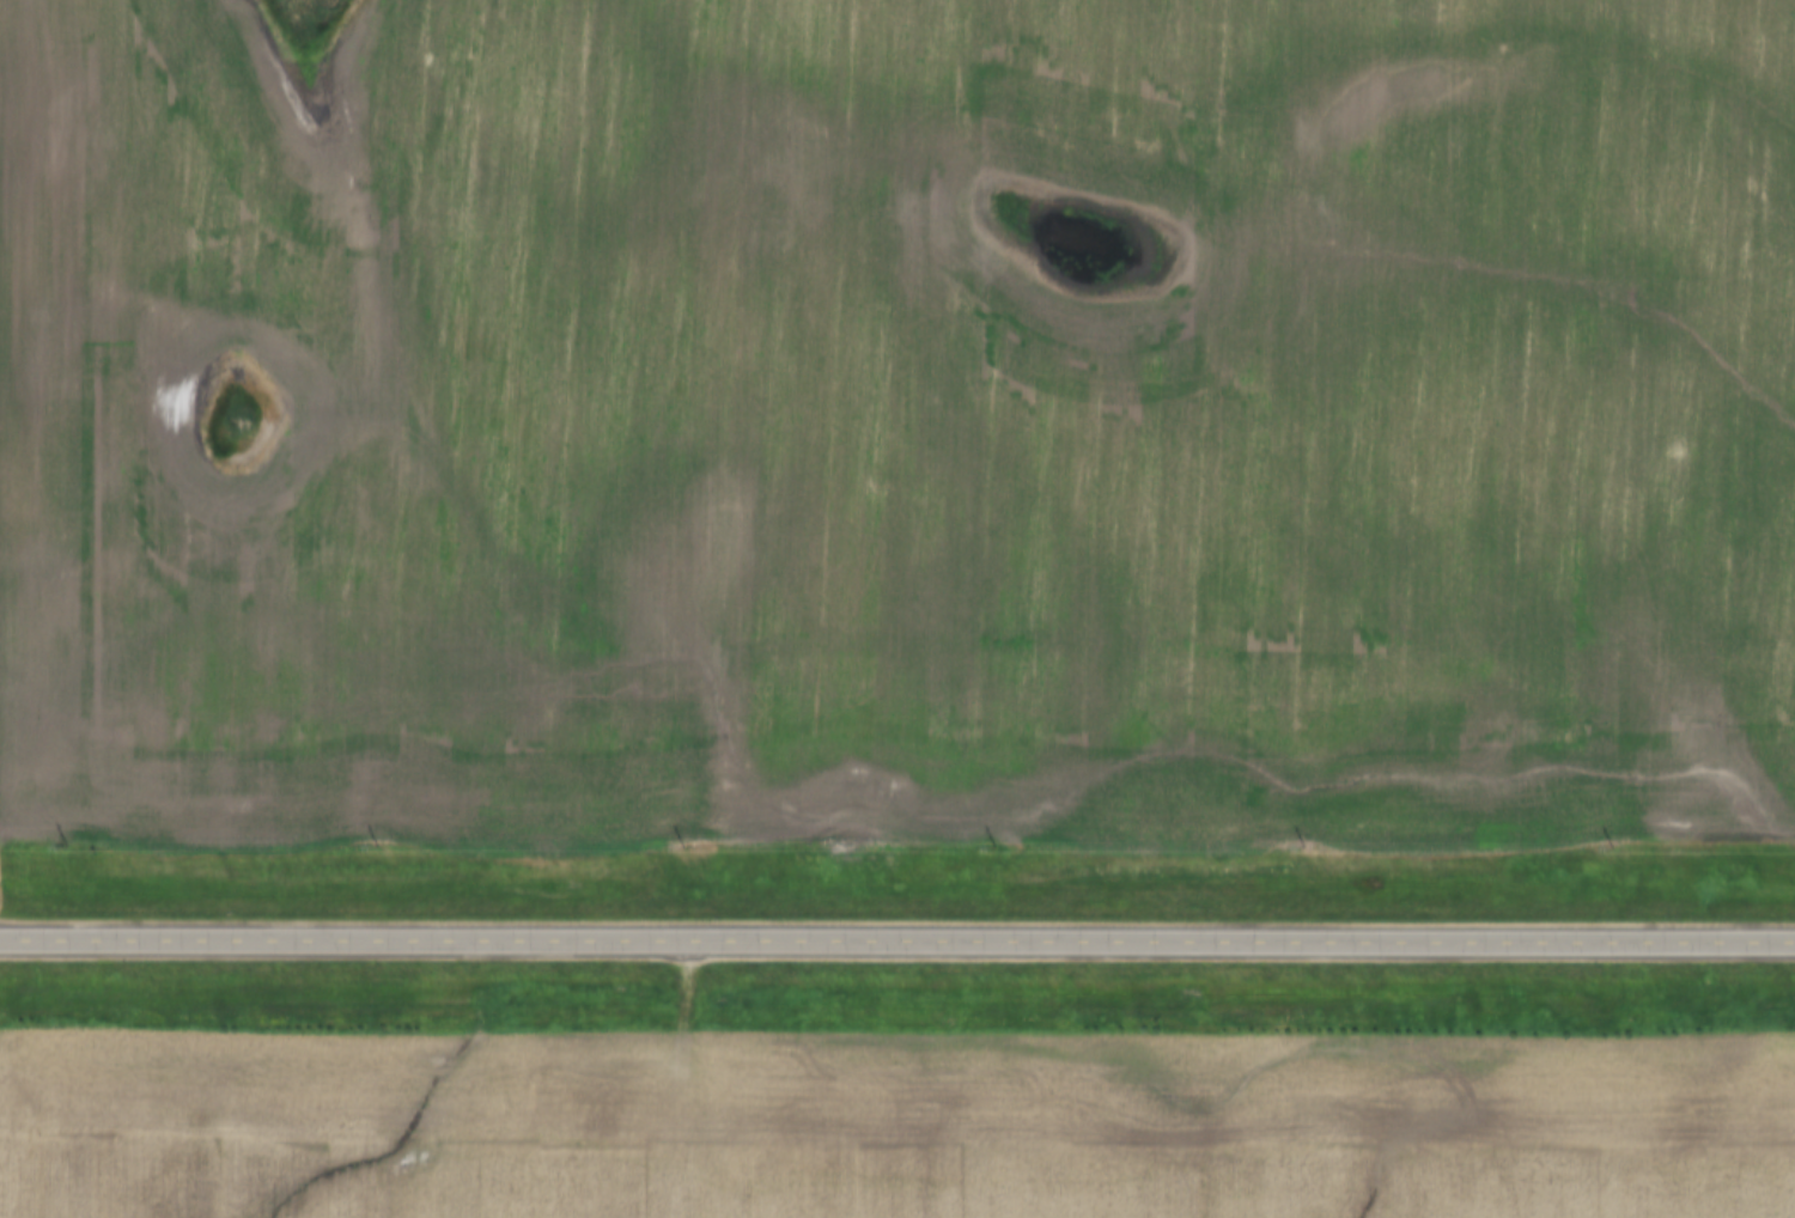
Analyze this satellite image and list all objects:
road: (898, 944)

